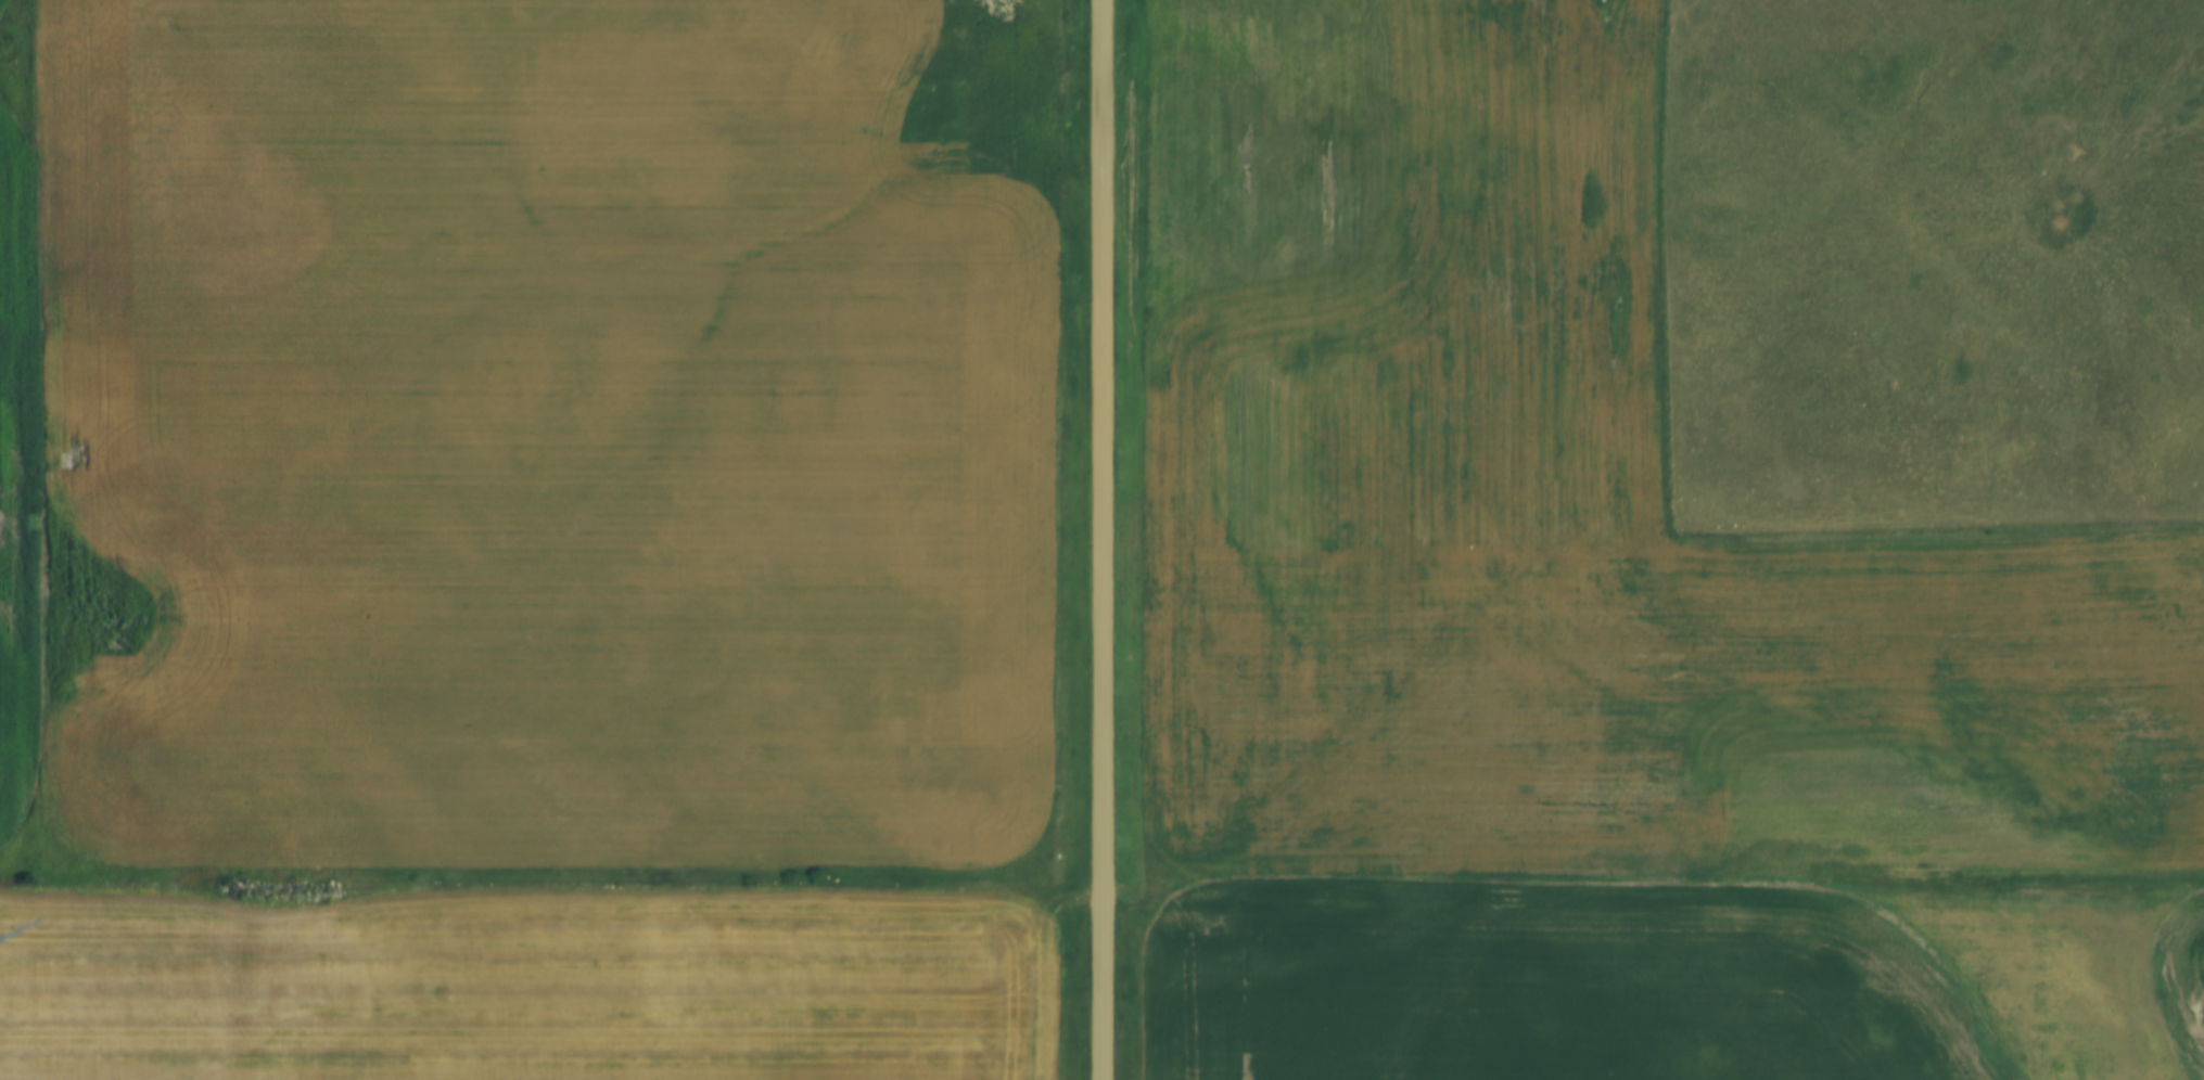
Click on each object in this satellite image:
road: (1100, 540)
road: (1652, 882)

